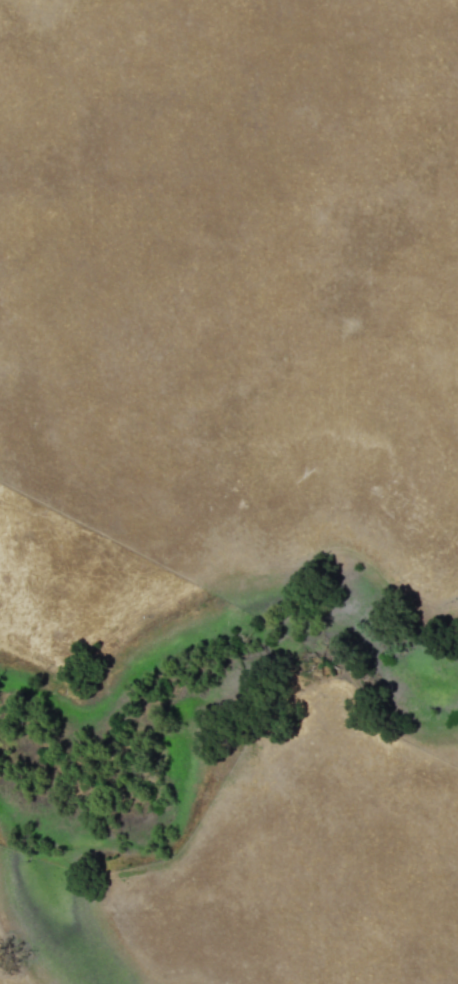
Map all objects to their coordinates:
crop: (20, 956)

